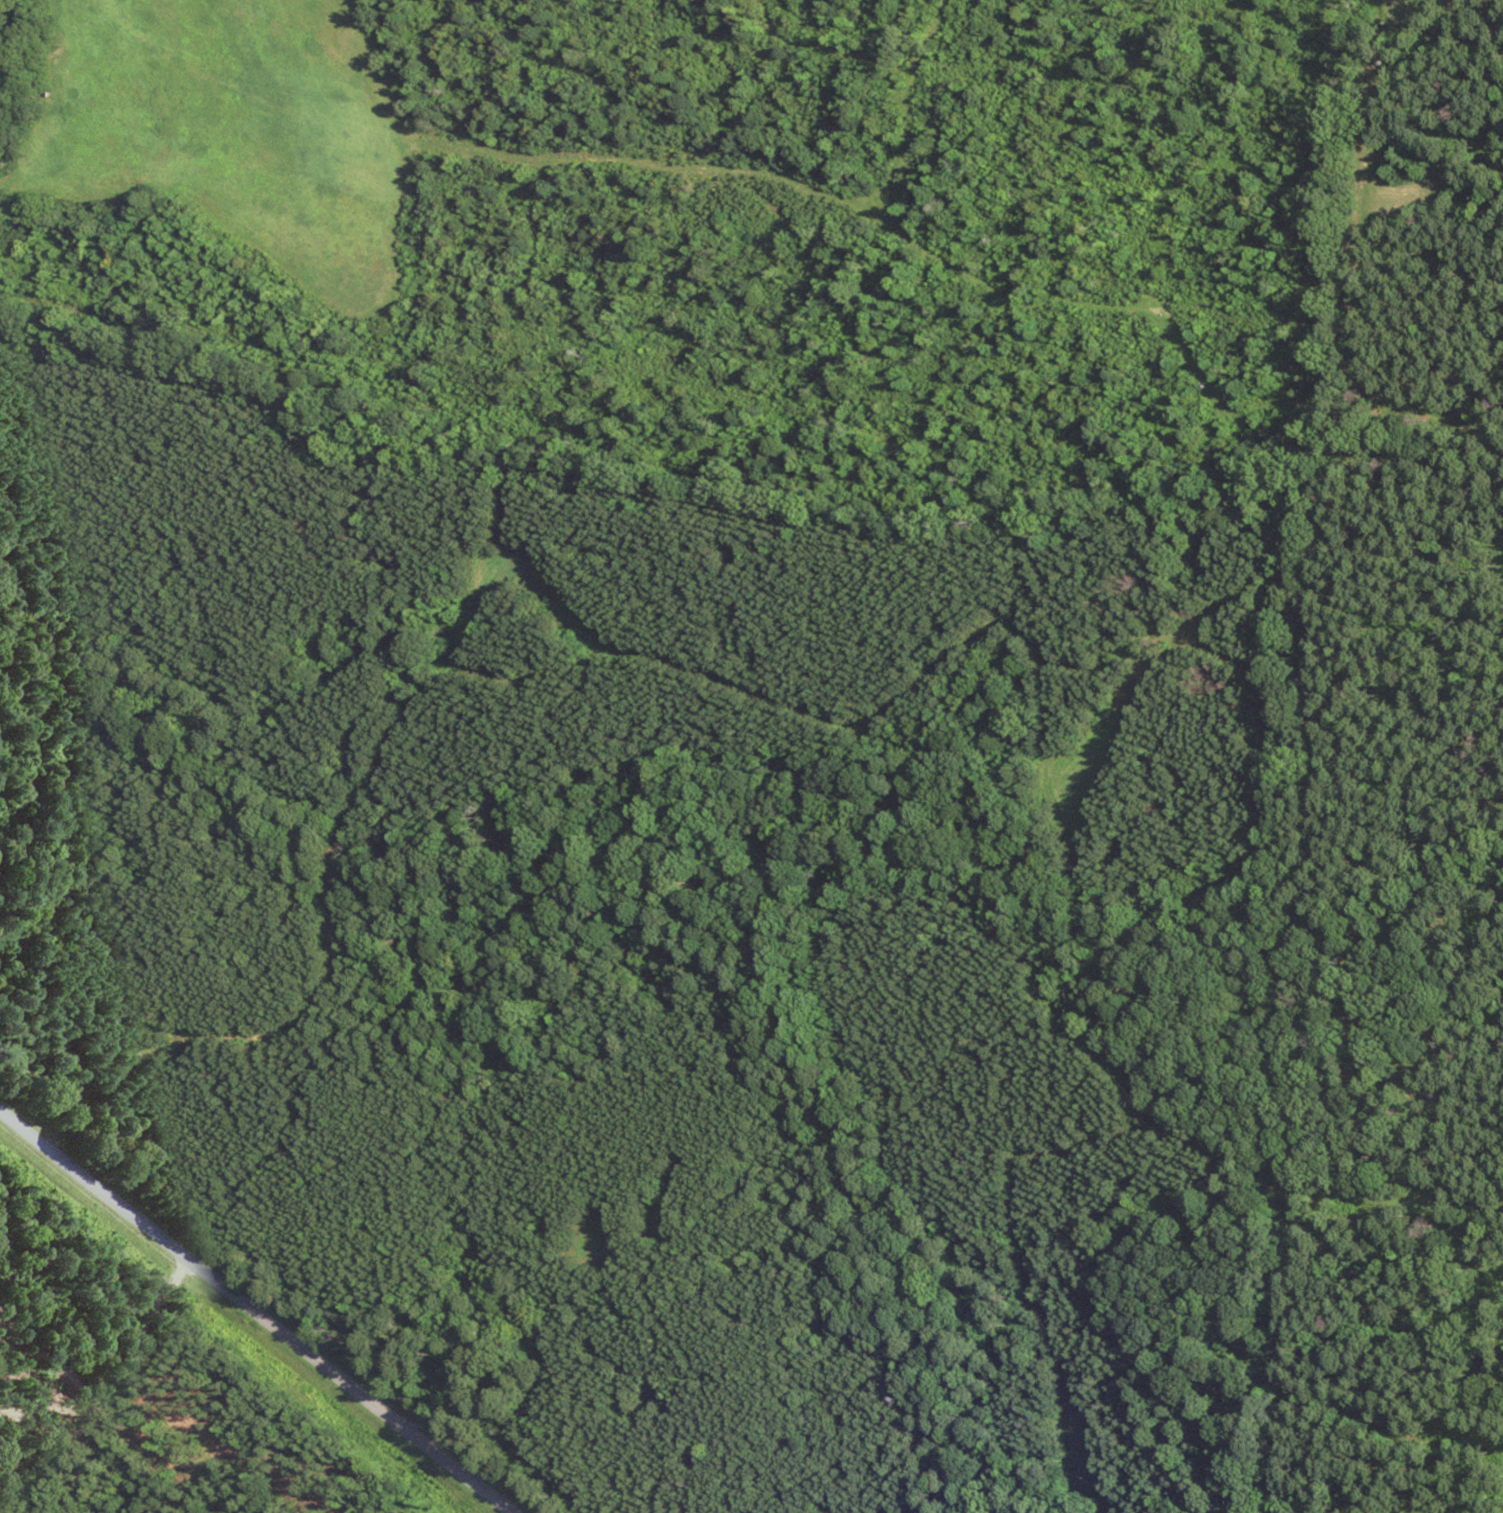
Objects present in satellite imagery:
road: (1193, 1306)
road: (255, 1314)

